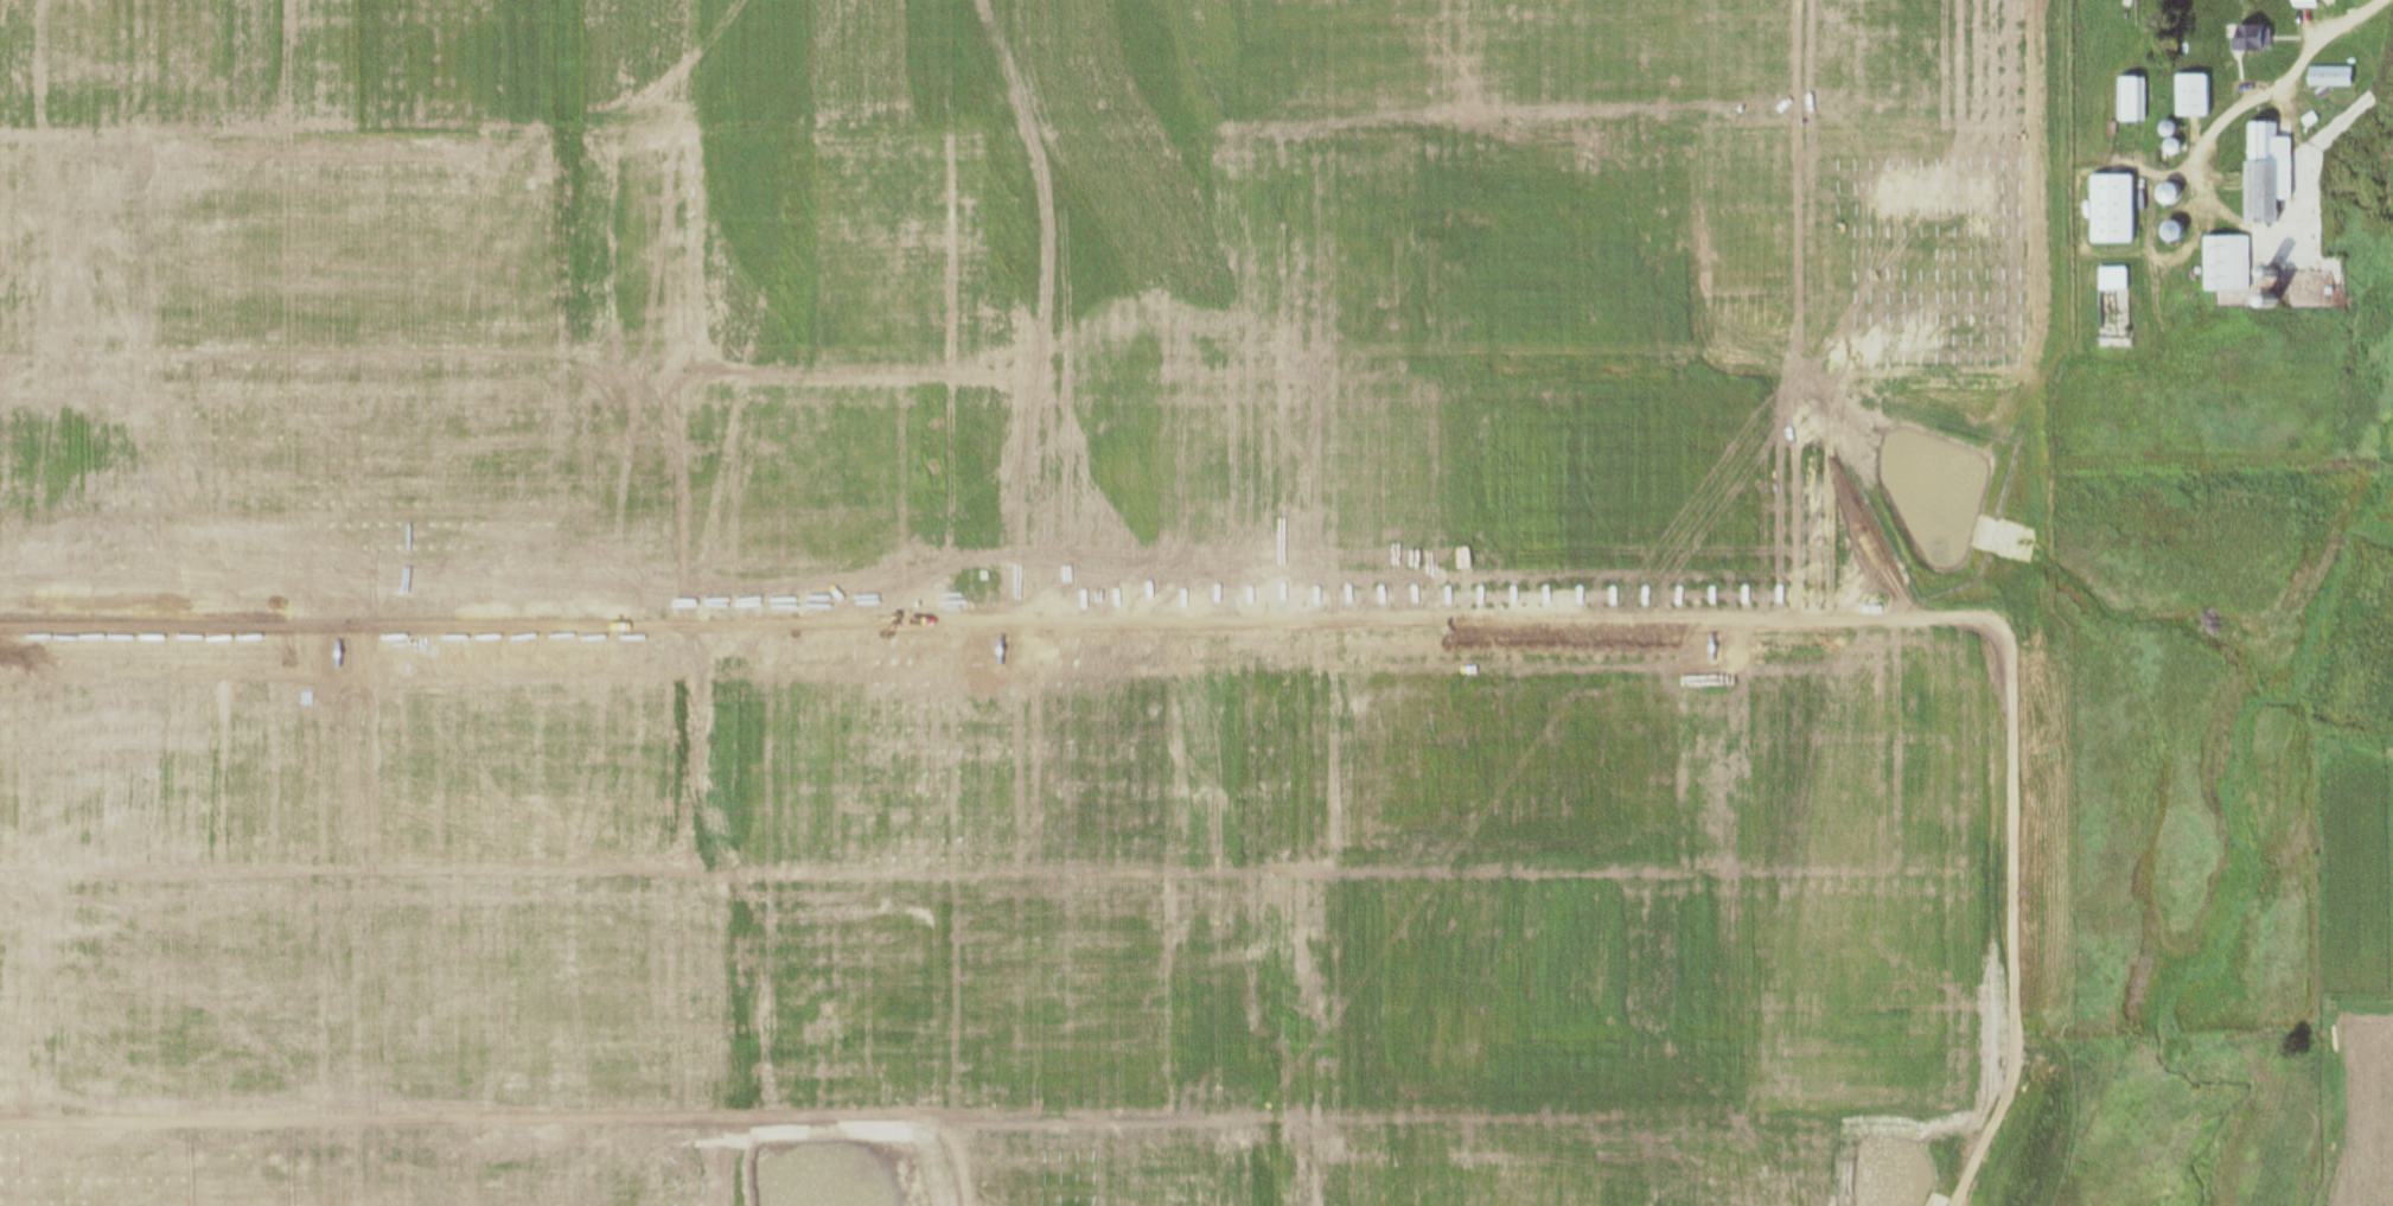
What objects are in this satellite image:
building: (2305, 4)
building: (2251, 39)
road: (2324, 49)
building: (2329, 77)
building: (2193, 97)
building: (2133, 101)
building: (2264, 176)
building: (2165, 196)
building: (2111, 211)
building: (2169, 234)
building: (2225, 266)
building: (2111, 281)

